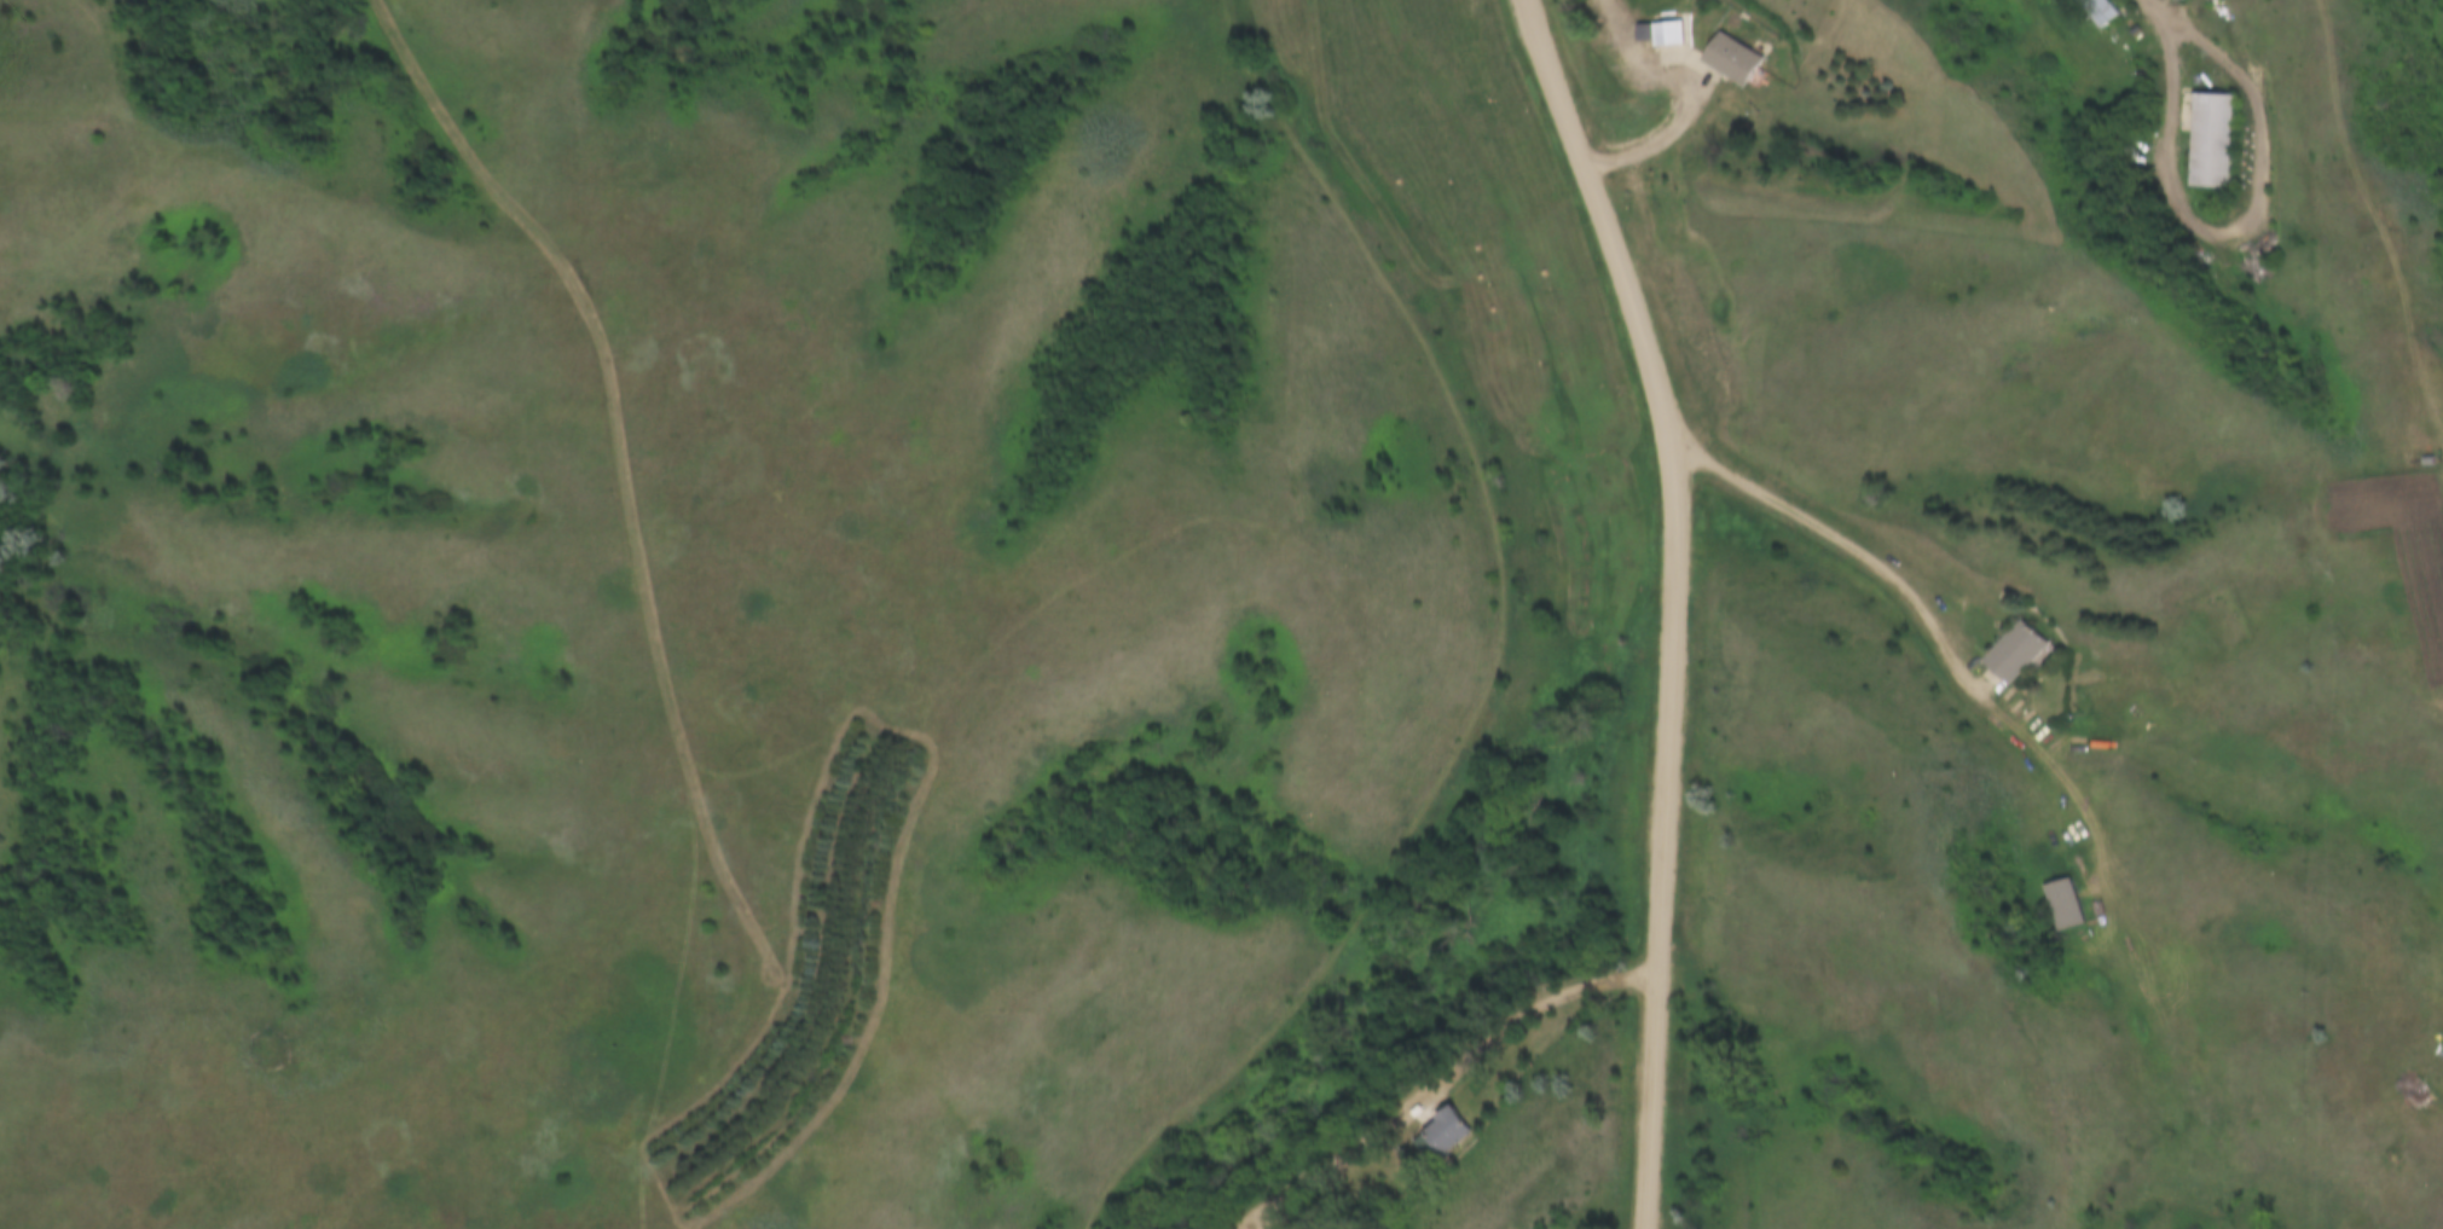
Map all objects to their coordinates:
road: (2166, 7)
building: (2114, 11)
building: (1675, 28)
building: (1744, 57)
road: (1668, 114)
building: (2216, 139)
road: (2252, 139)
road: (1677, 602)
road: (1933, 613)
building: (2027, 653)
building: (2072, 903)
road: (1447, 1068)
building: (1443, 1132)

